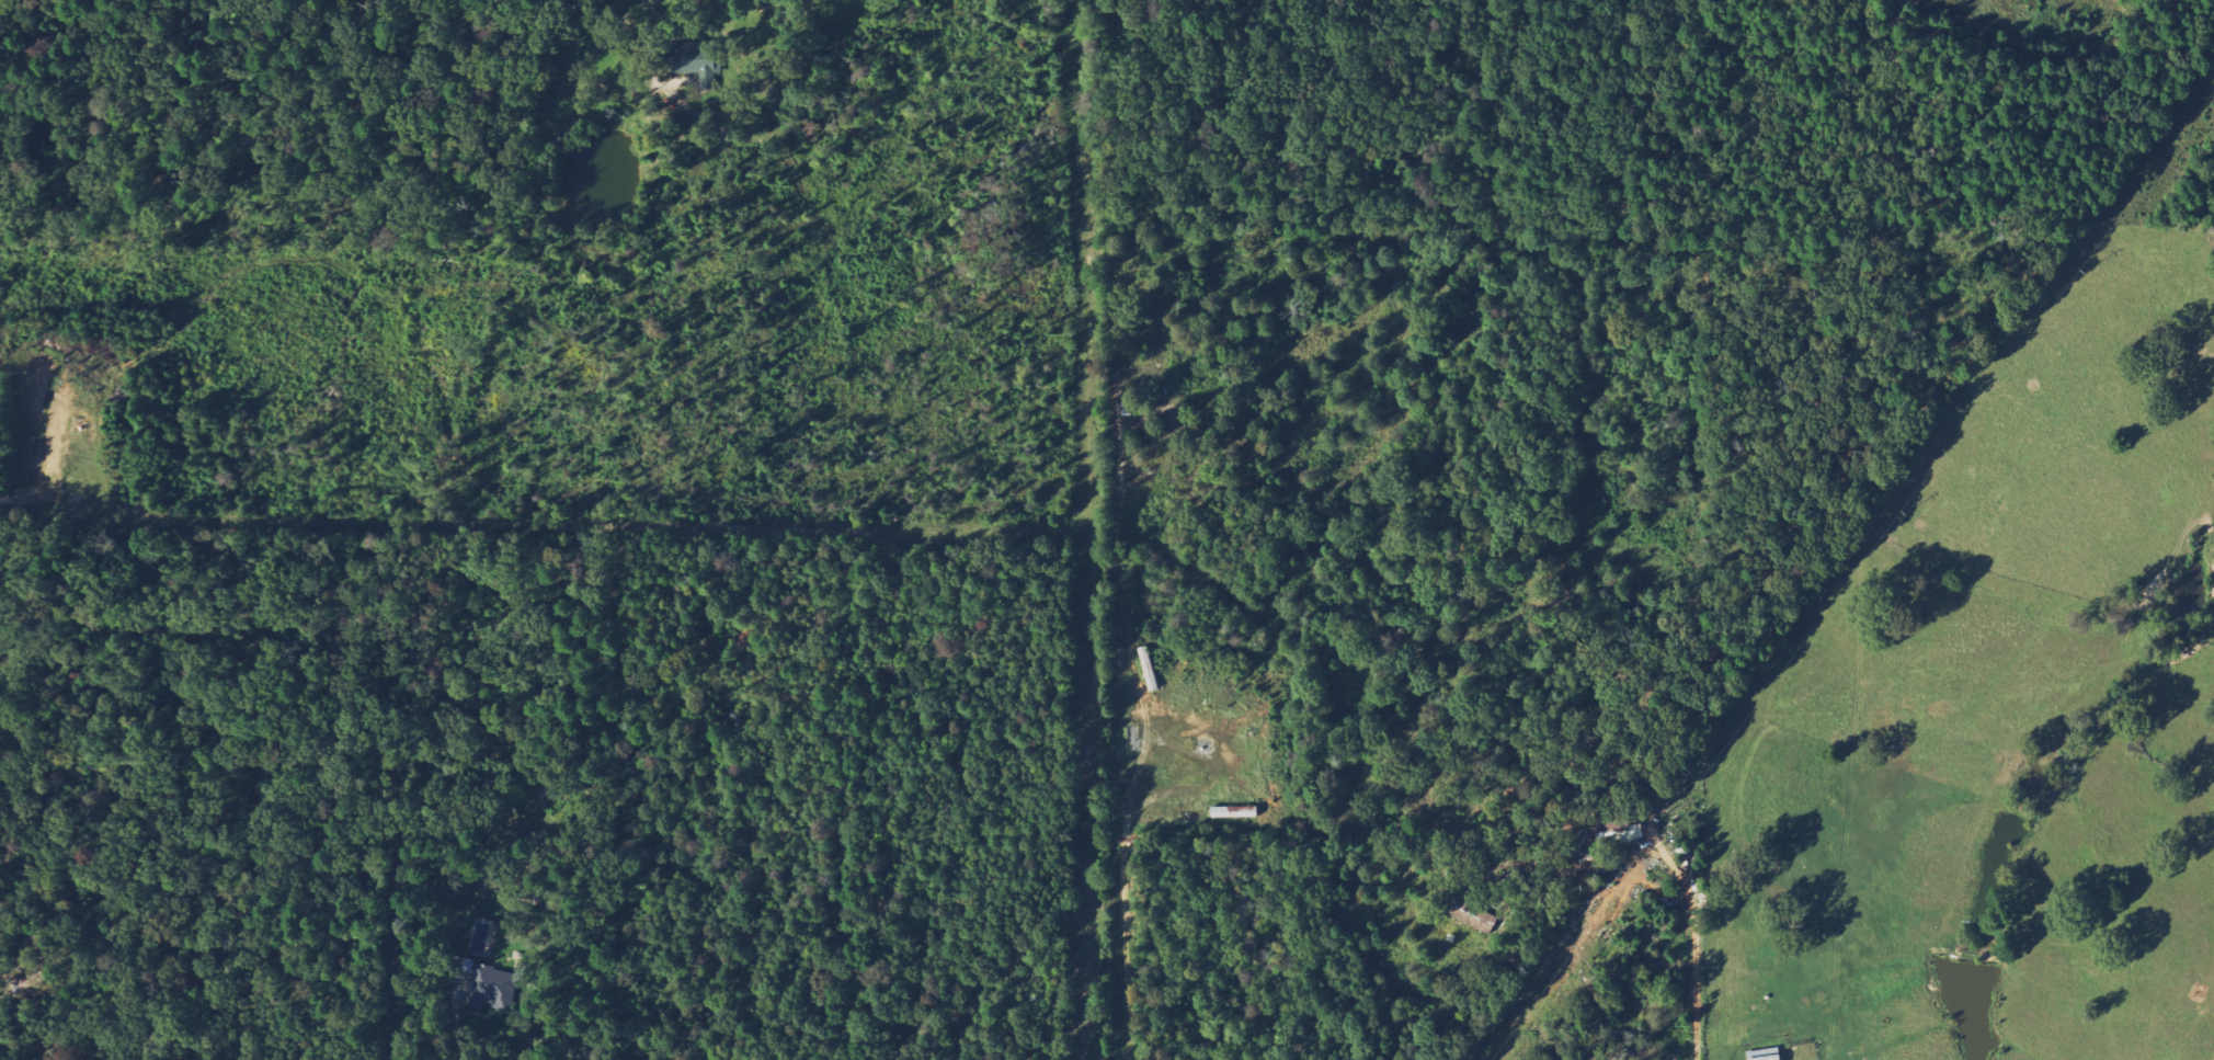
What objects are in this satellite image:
road: (655, 10)
building: (697, 61)
building: (1230, 812)
building: (1627, 831)
road: (624, 869)
building: (1473, 916)
building: (487, 987)
building: (1765, 1056)

